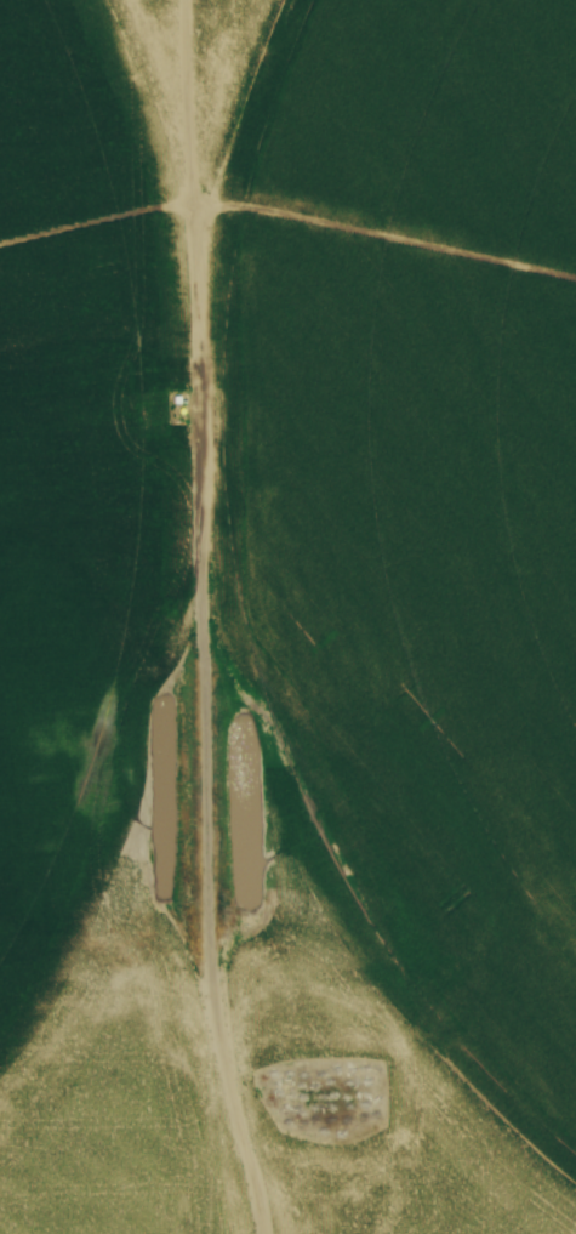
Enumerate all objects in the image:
crop: (287, 616)

